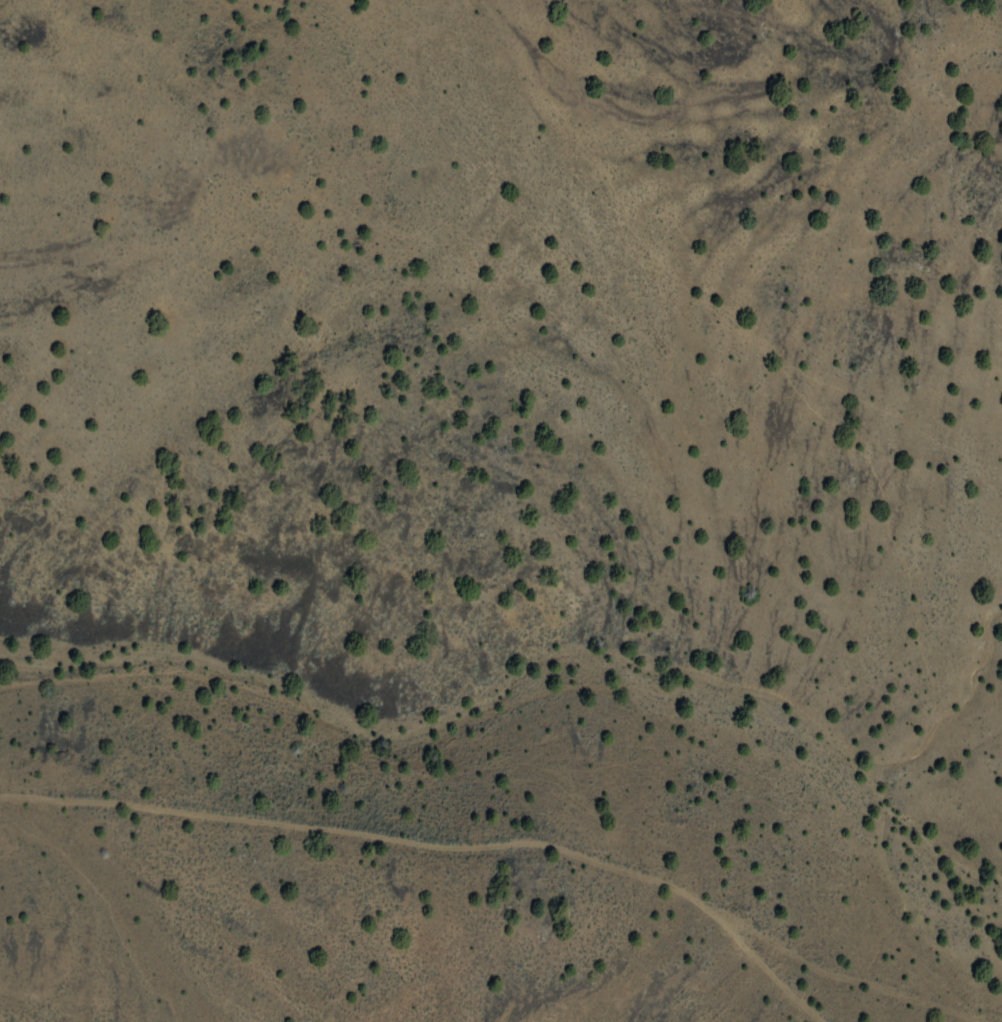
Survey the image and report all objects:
road: (440, 847)

